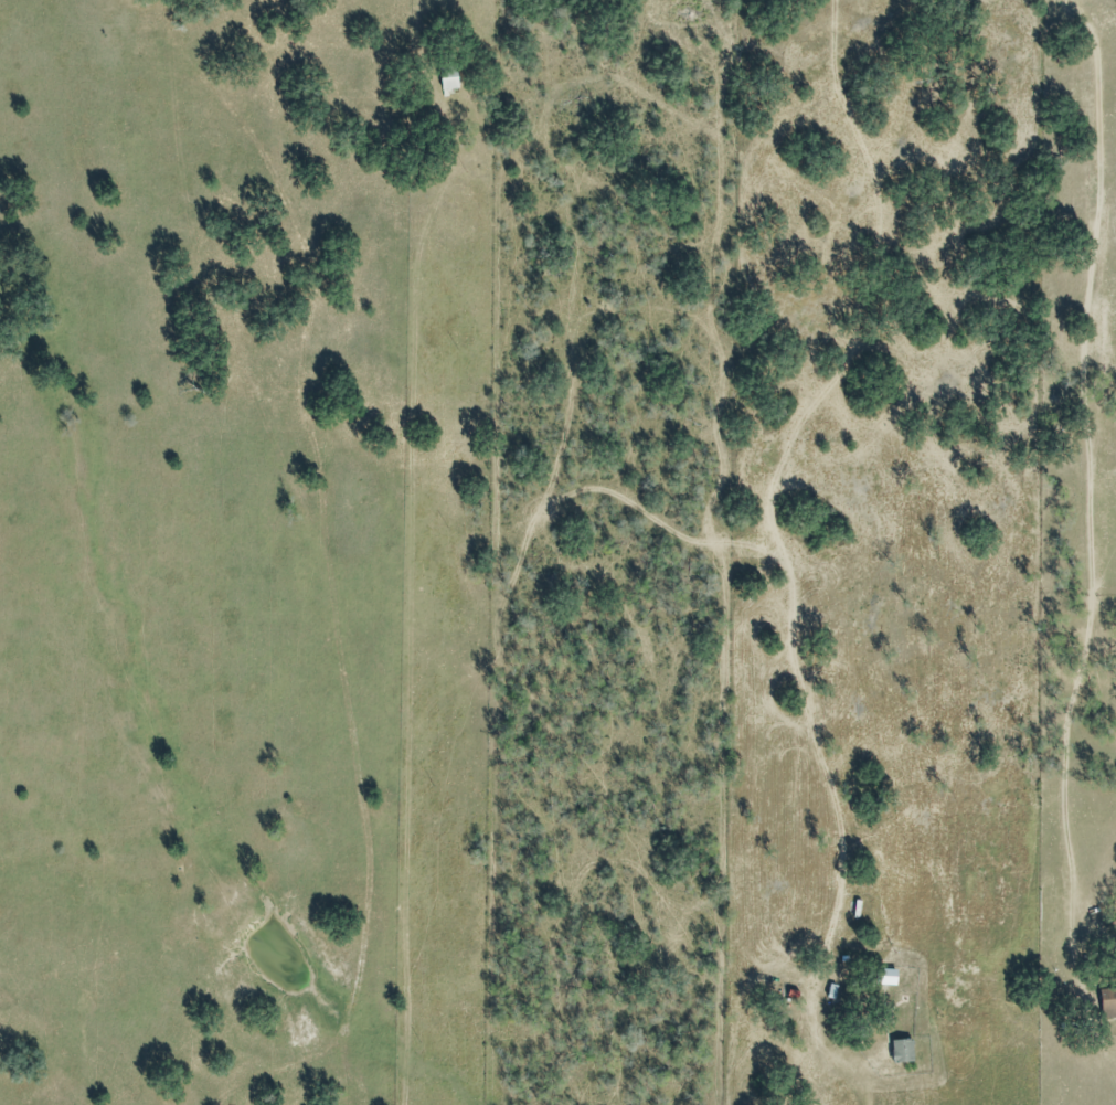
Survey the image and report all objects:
building: (448, 79)
road: (1059, 1029)
building: (903, 1054)

